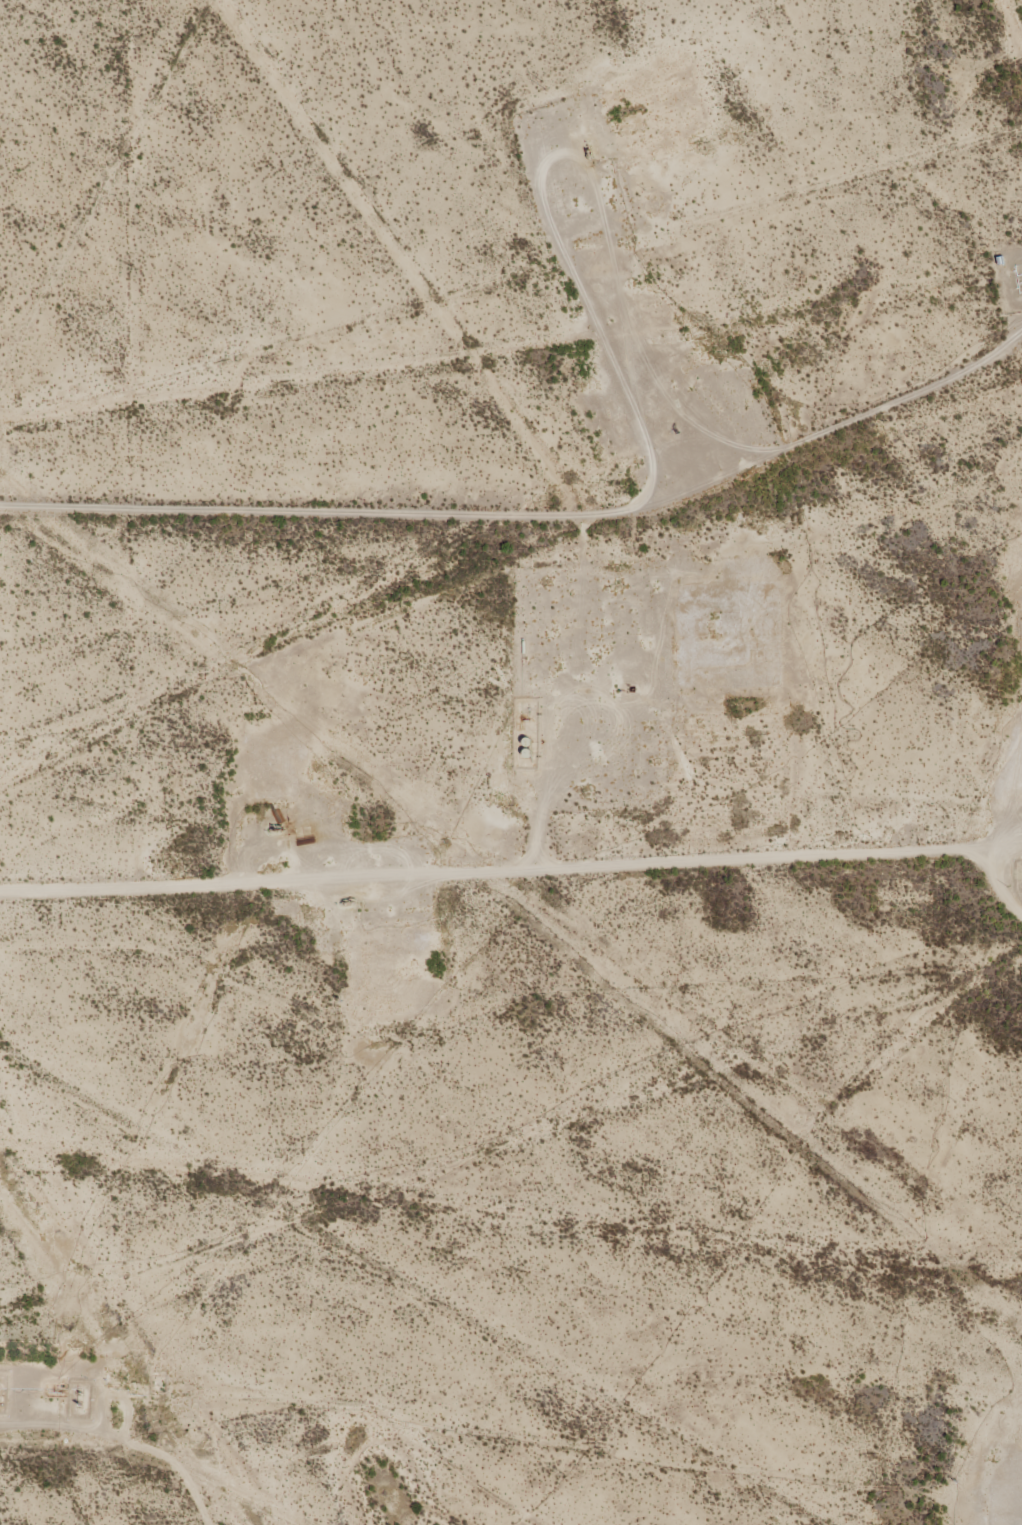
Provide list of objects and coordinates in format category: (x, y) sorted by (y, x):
power tower: (543, 84)
power tower: (192, 221)
road: (328, 516)

